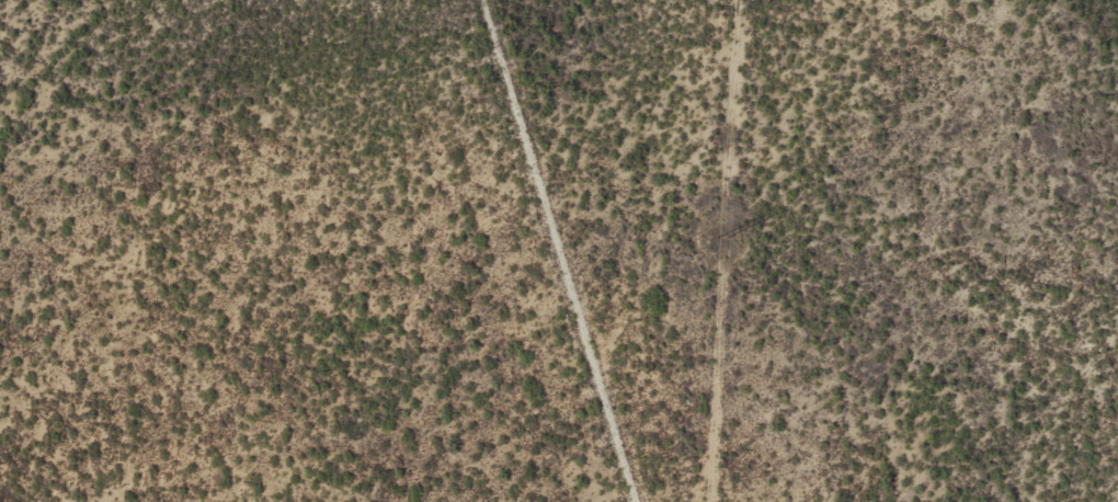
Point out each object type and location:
power tower: (721, 239)

